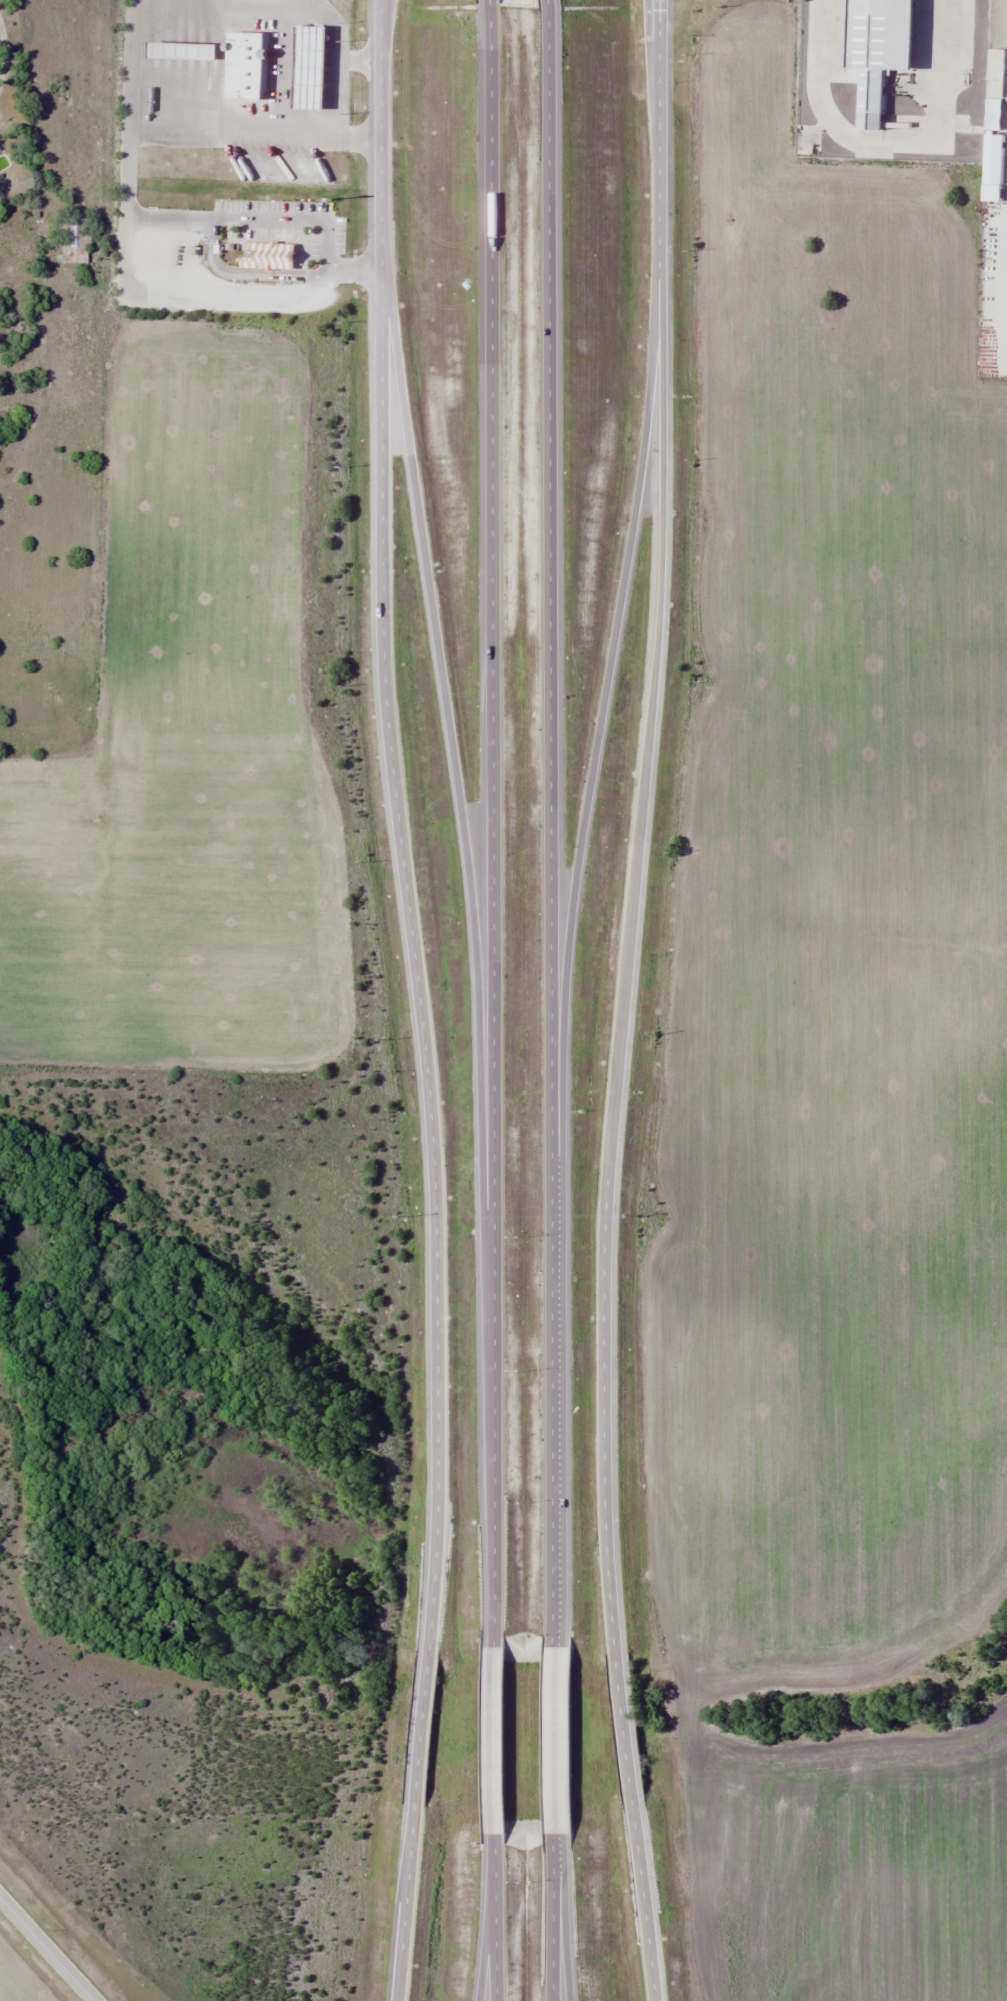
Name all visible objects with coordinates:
road: (490, 3)
road: (549, 3)
building: (886, 52)
building: (998, 73)
building: (73, 241)
building: (275, 256)
road: (657, 638)
road: (385, 697)
road: (598, 733)
road: (450, 741)
road: (550, 826)
road: (492, 831)
road: (604, 1466)
road: (435, 1526)
road: (625, 1727)
road: (420, 1730)
road: (494, 1739)
road: (553, 1741)
road: (643, 1898)
road: (406, 1900)
road: (495, 1911)
road: (551, 1918)
road: (487, 1937)
road: (560, 1946)
road: (46, 1949)

